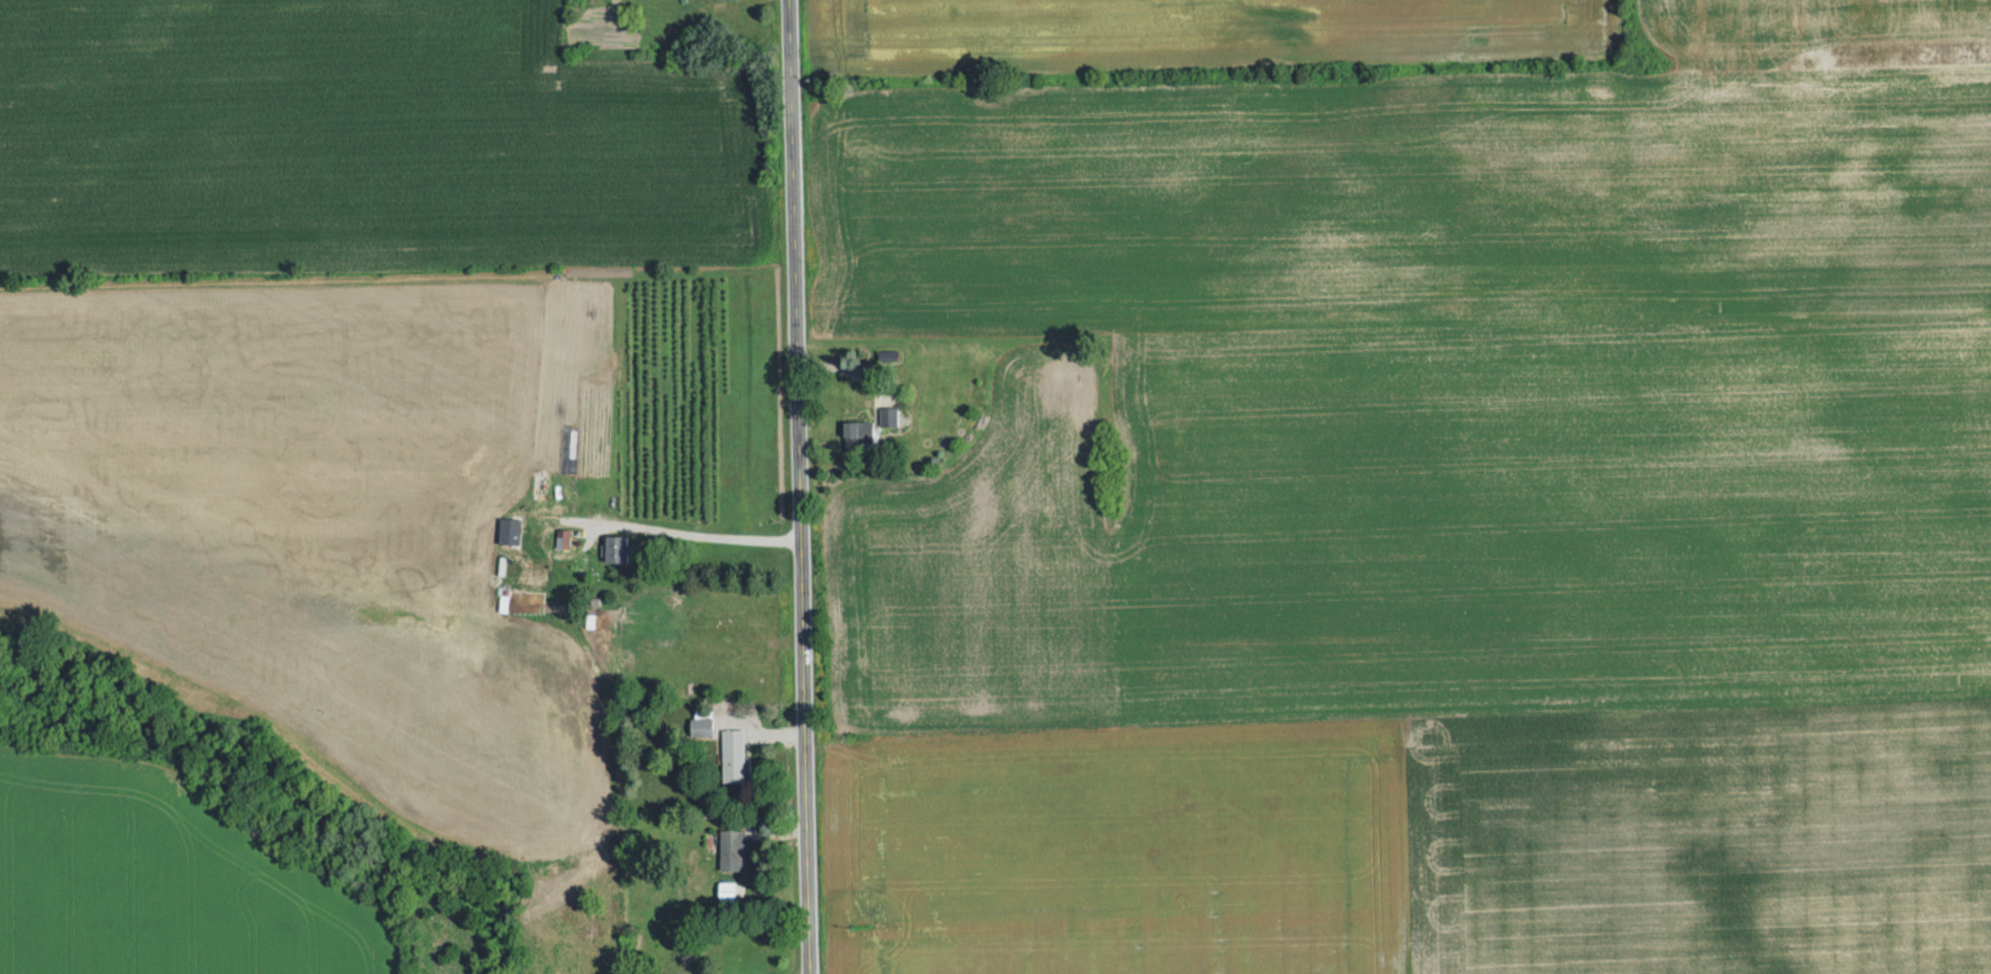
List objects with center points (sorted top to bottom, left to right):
building: (887, 417)
road: (799, 486)
building: (570, 499)
road: (697, 532)
building: (508, 539)
building: (613, 549)
building: (523, 581)
building: (732, 757)
building: (730, 851)

